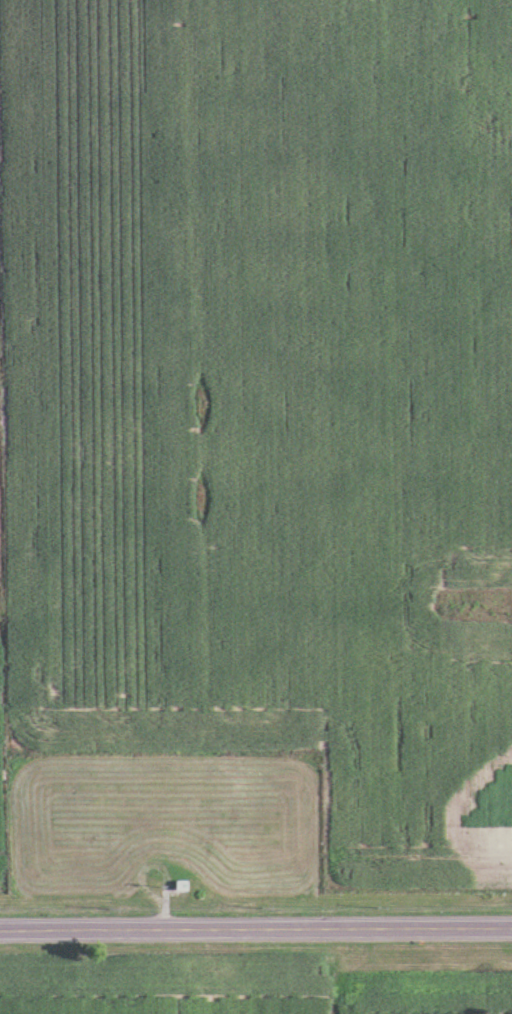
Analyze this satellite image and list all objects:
crop: (266, 403)
crop: (0, 574)
crop: (1, 769)
road: (256, 928)
crop: (165, 978)
crop: (420, 992)

